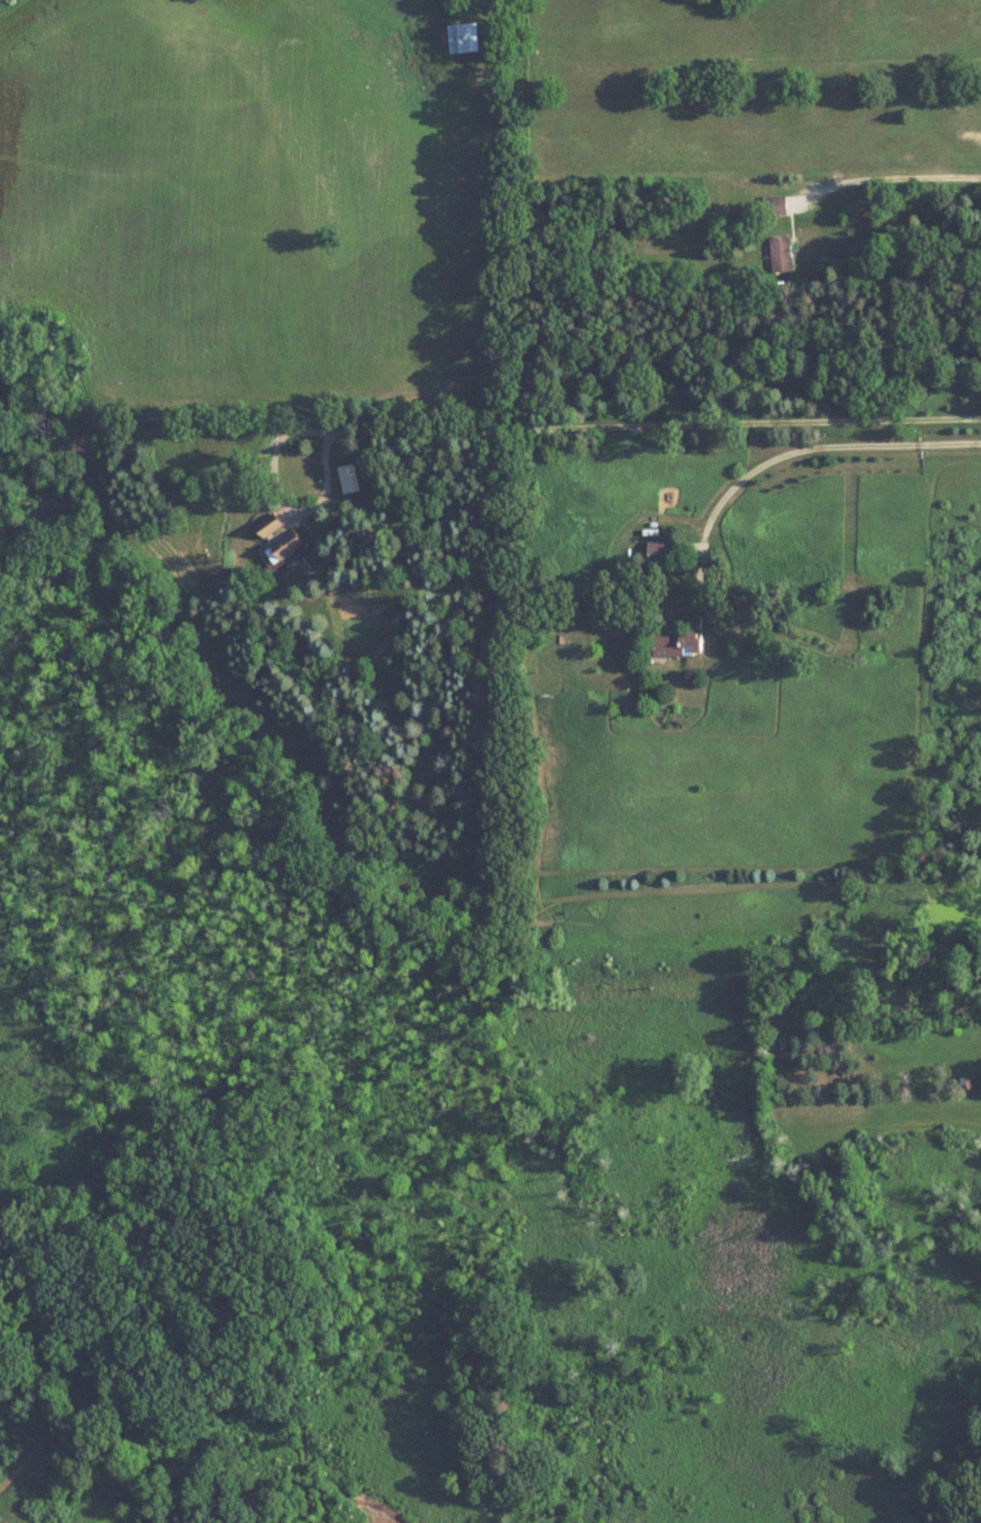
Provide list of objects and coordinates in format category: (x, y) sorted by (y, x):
building: (464, 39)
road: (890, 177)
building: (774, 205)
building: (781, 254)
road: (654, 426)
road: (795, 451)
building: (350, 478)
road: (284, 500)
building: (270, 524)
building: (286, 546)
building: (661, 552)
building: (680, 643)

